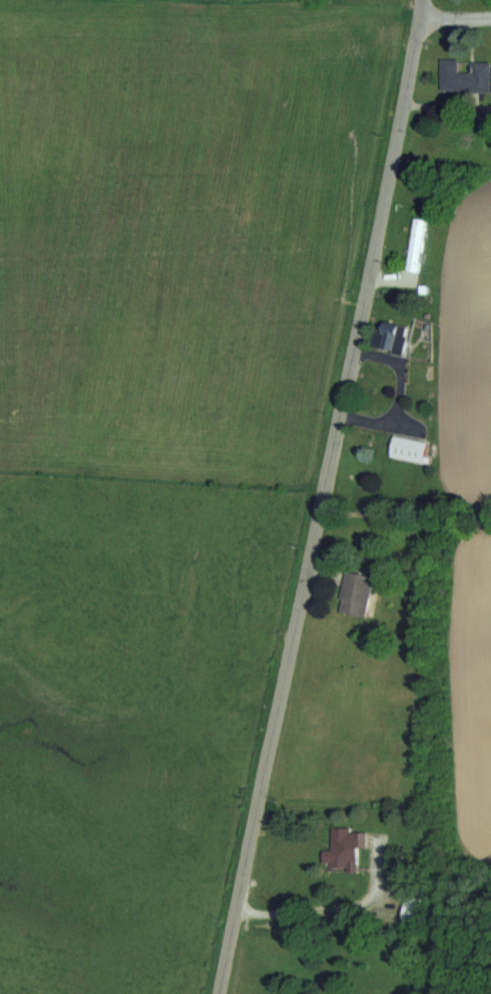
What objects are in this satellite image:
road: (455, 16)
building: (466, 75)
building: (419, 243)
building: (395, 335)
building: (412, 448)
road: (322, 497)
building: (358, 592)
building: (346, 849)
road: (323, 906)
building: (418, 906)

